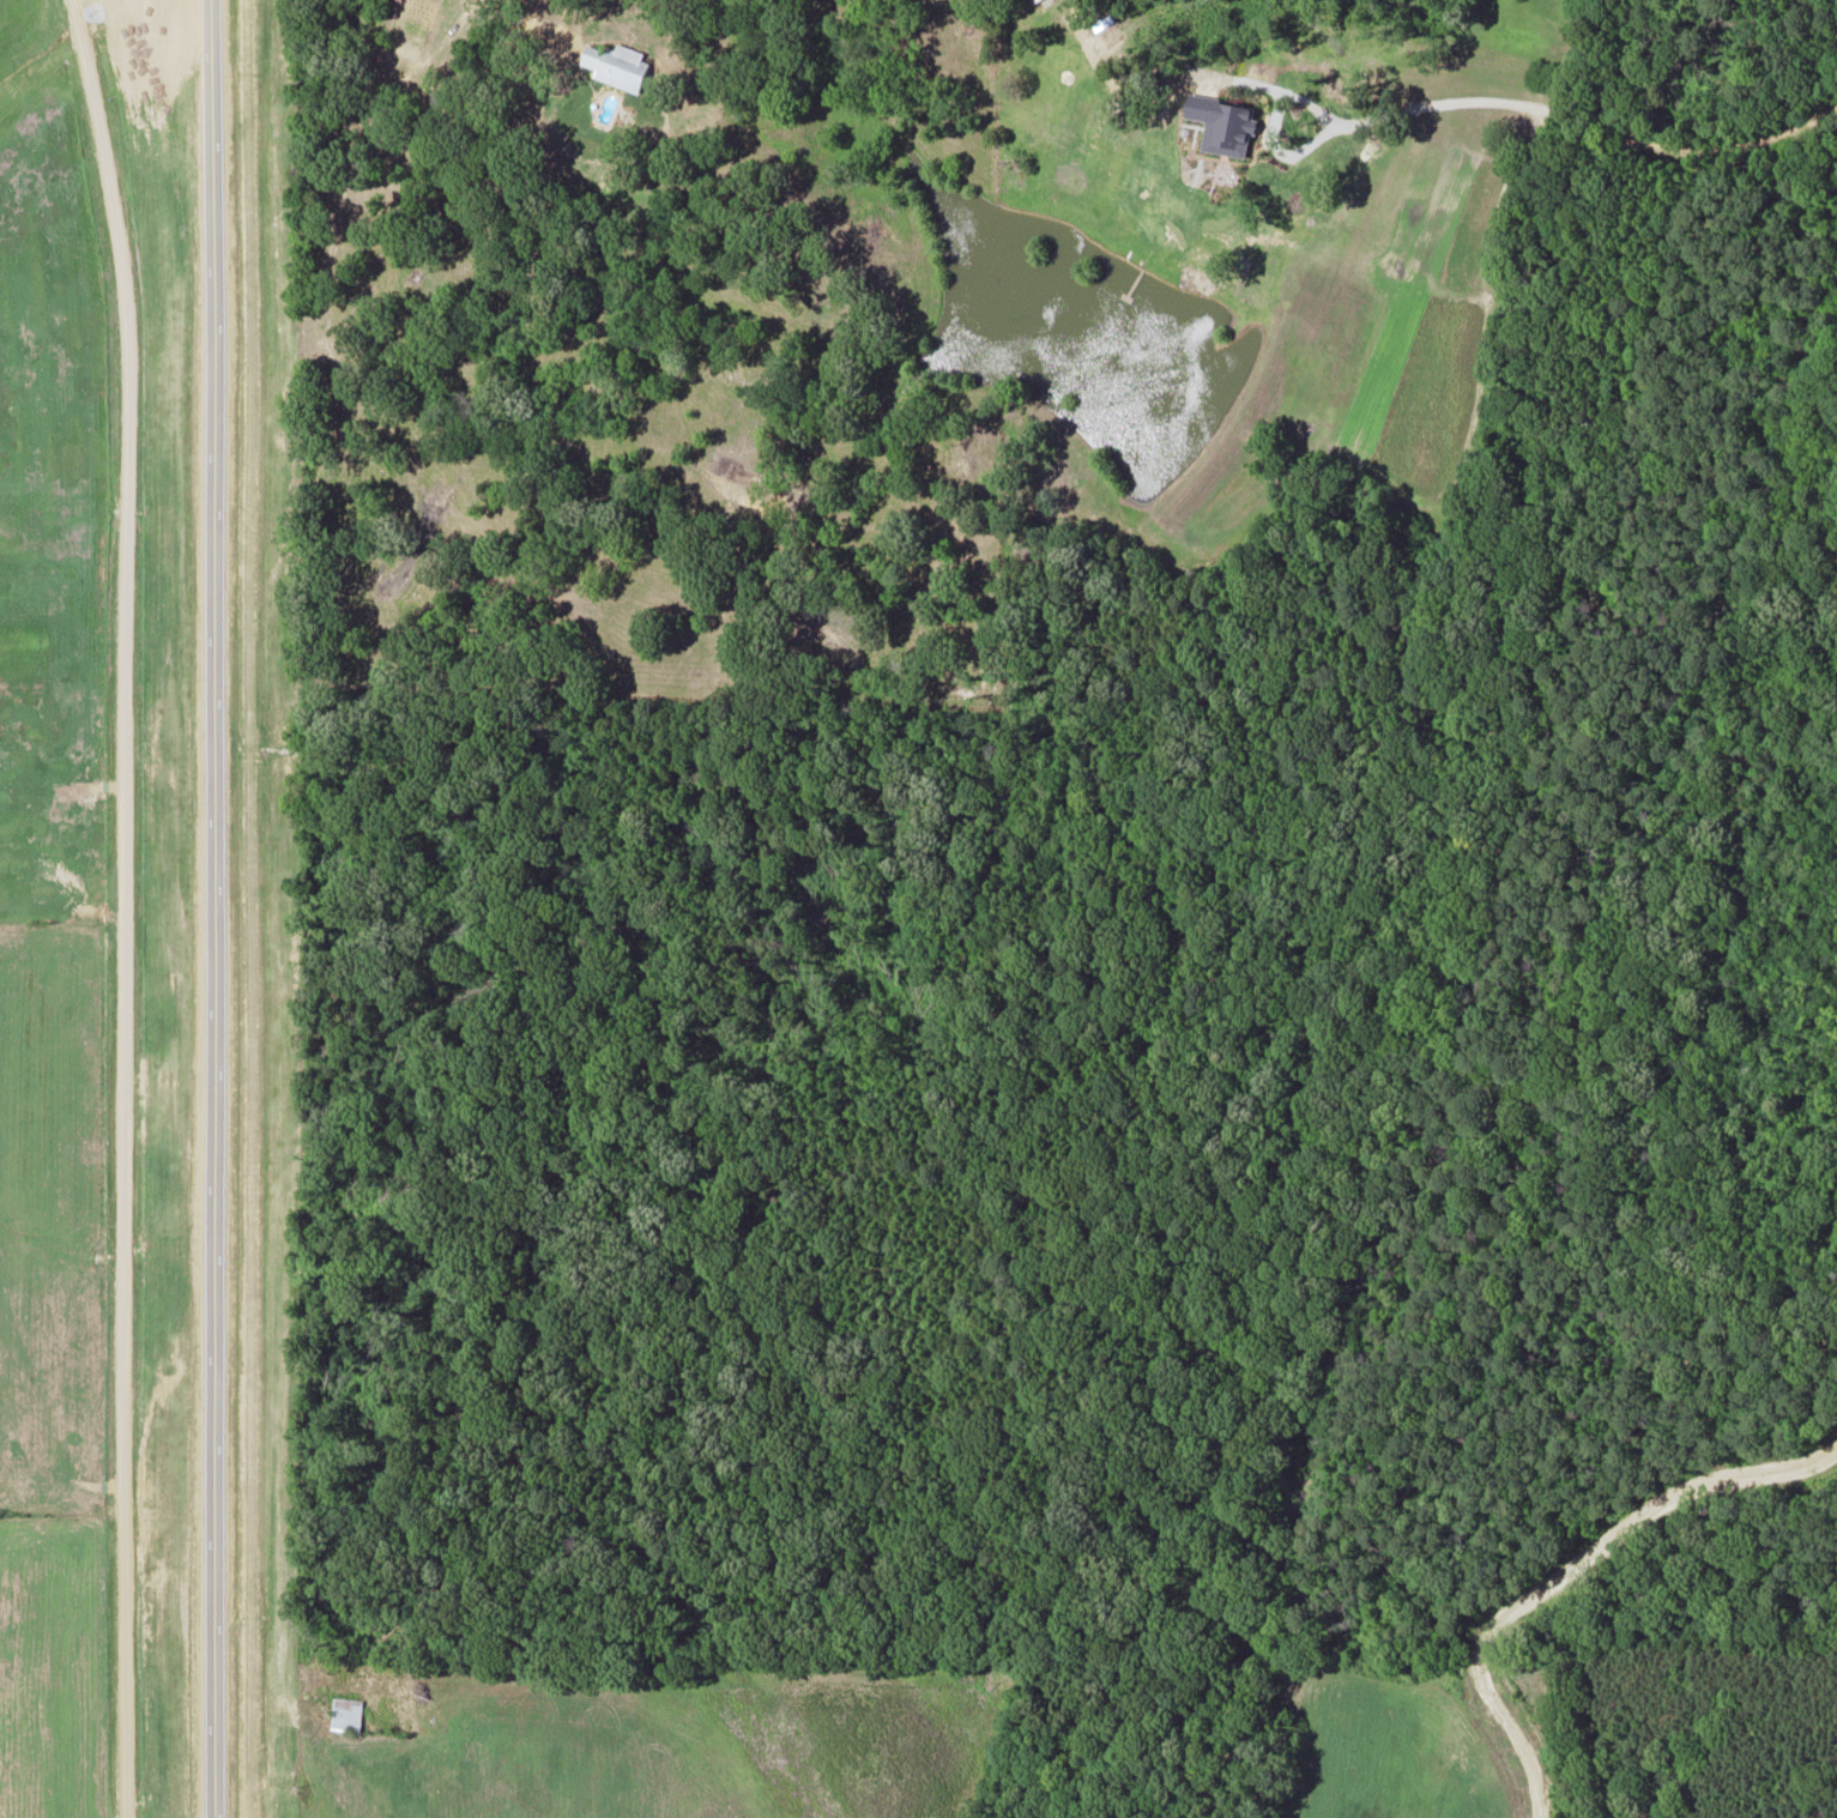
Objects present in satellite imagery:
building: (1039, 1)
building: (616, 64)
road: (1512, 101)
building: (1222, 122)
road: (117, 907)
road: (213, 908)
building: (346, 1713)

